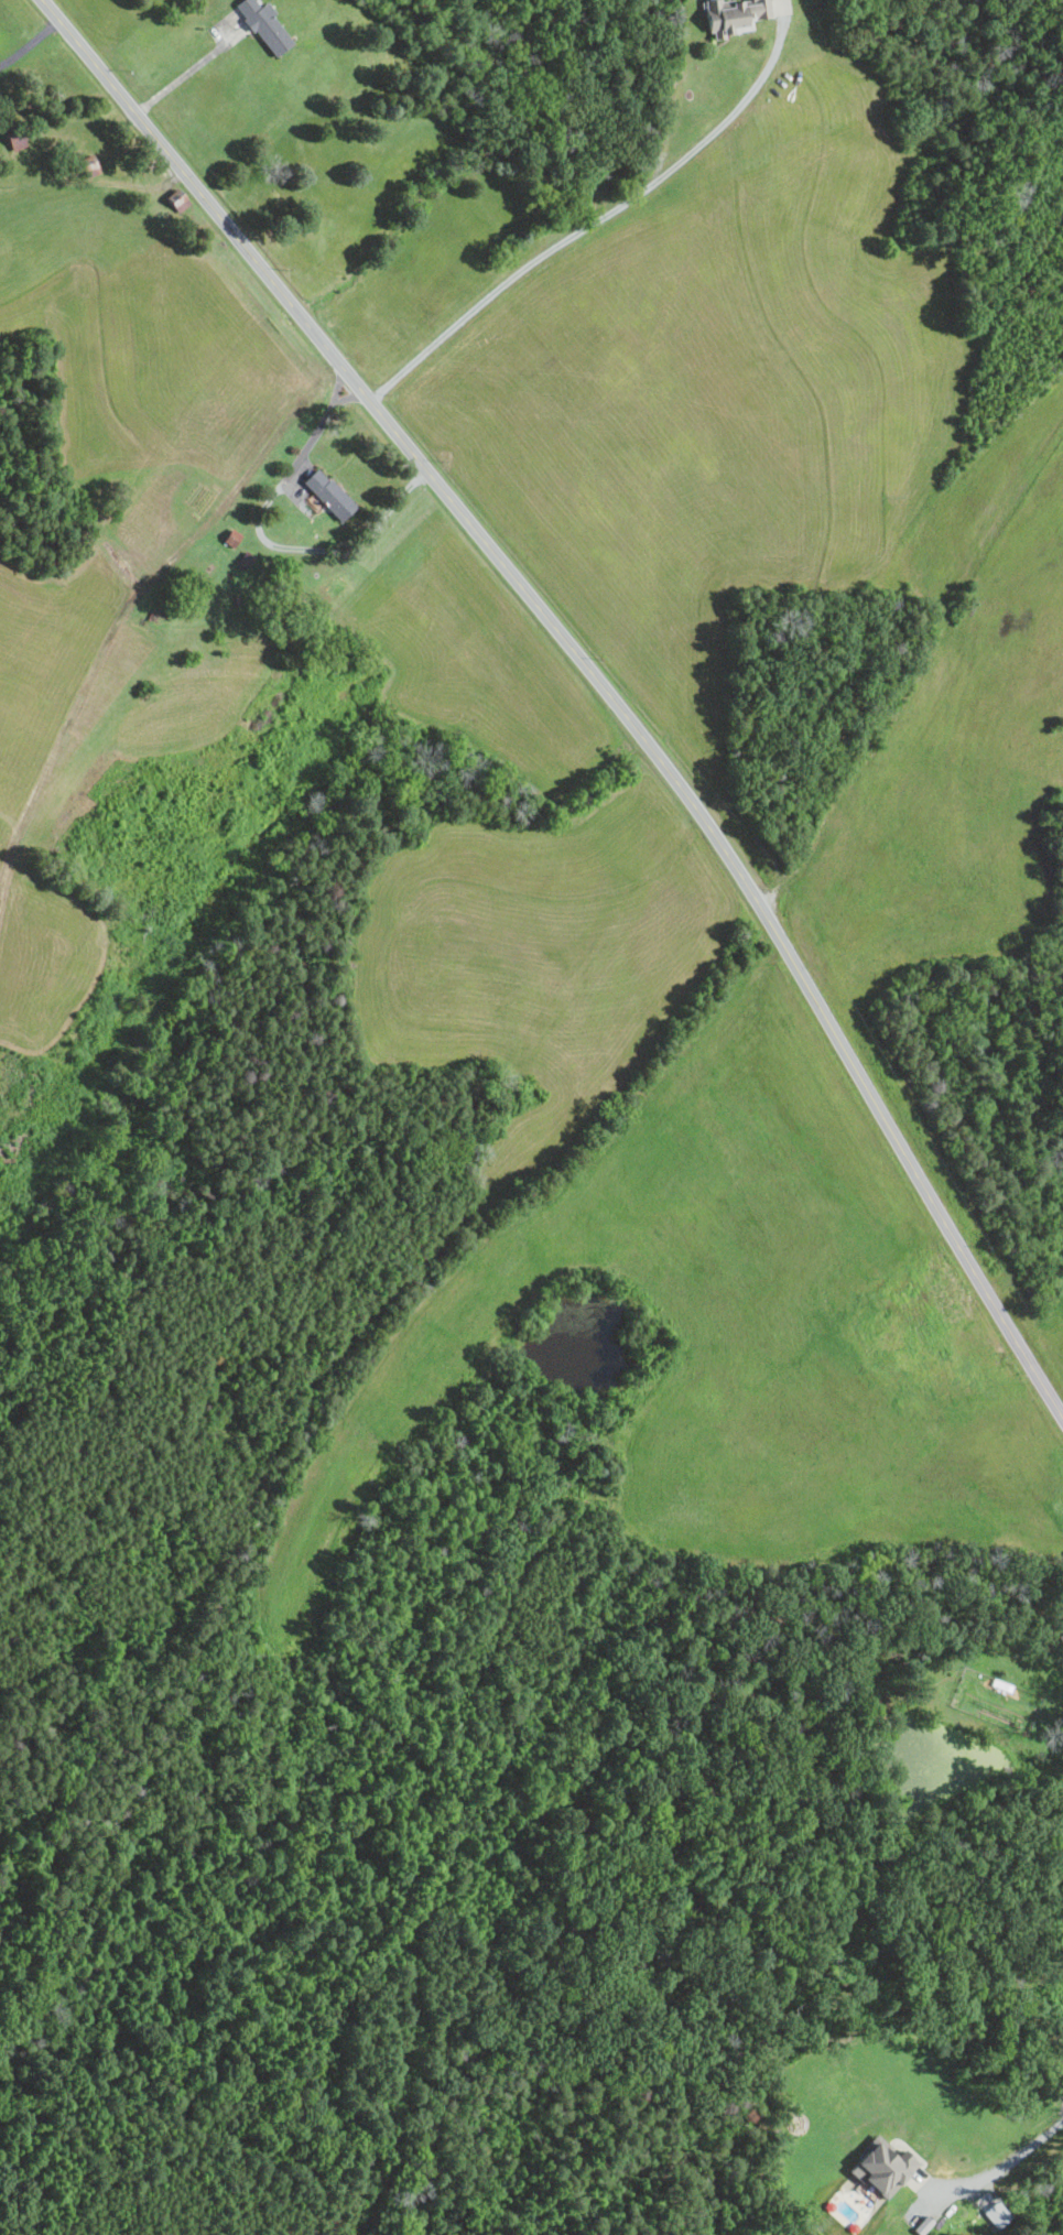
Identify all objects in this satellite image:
building: (739, 13)
building: (263, 24)
road: (31, 46)
road: (186, 72)
road: (587, 226)
road: (332, 401)
road: (308, 443)
building: (327, 492)
road: (596, 677)
road: (1012, 2161)
building: (881, 2168)

